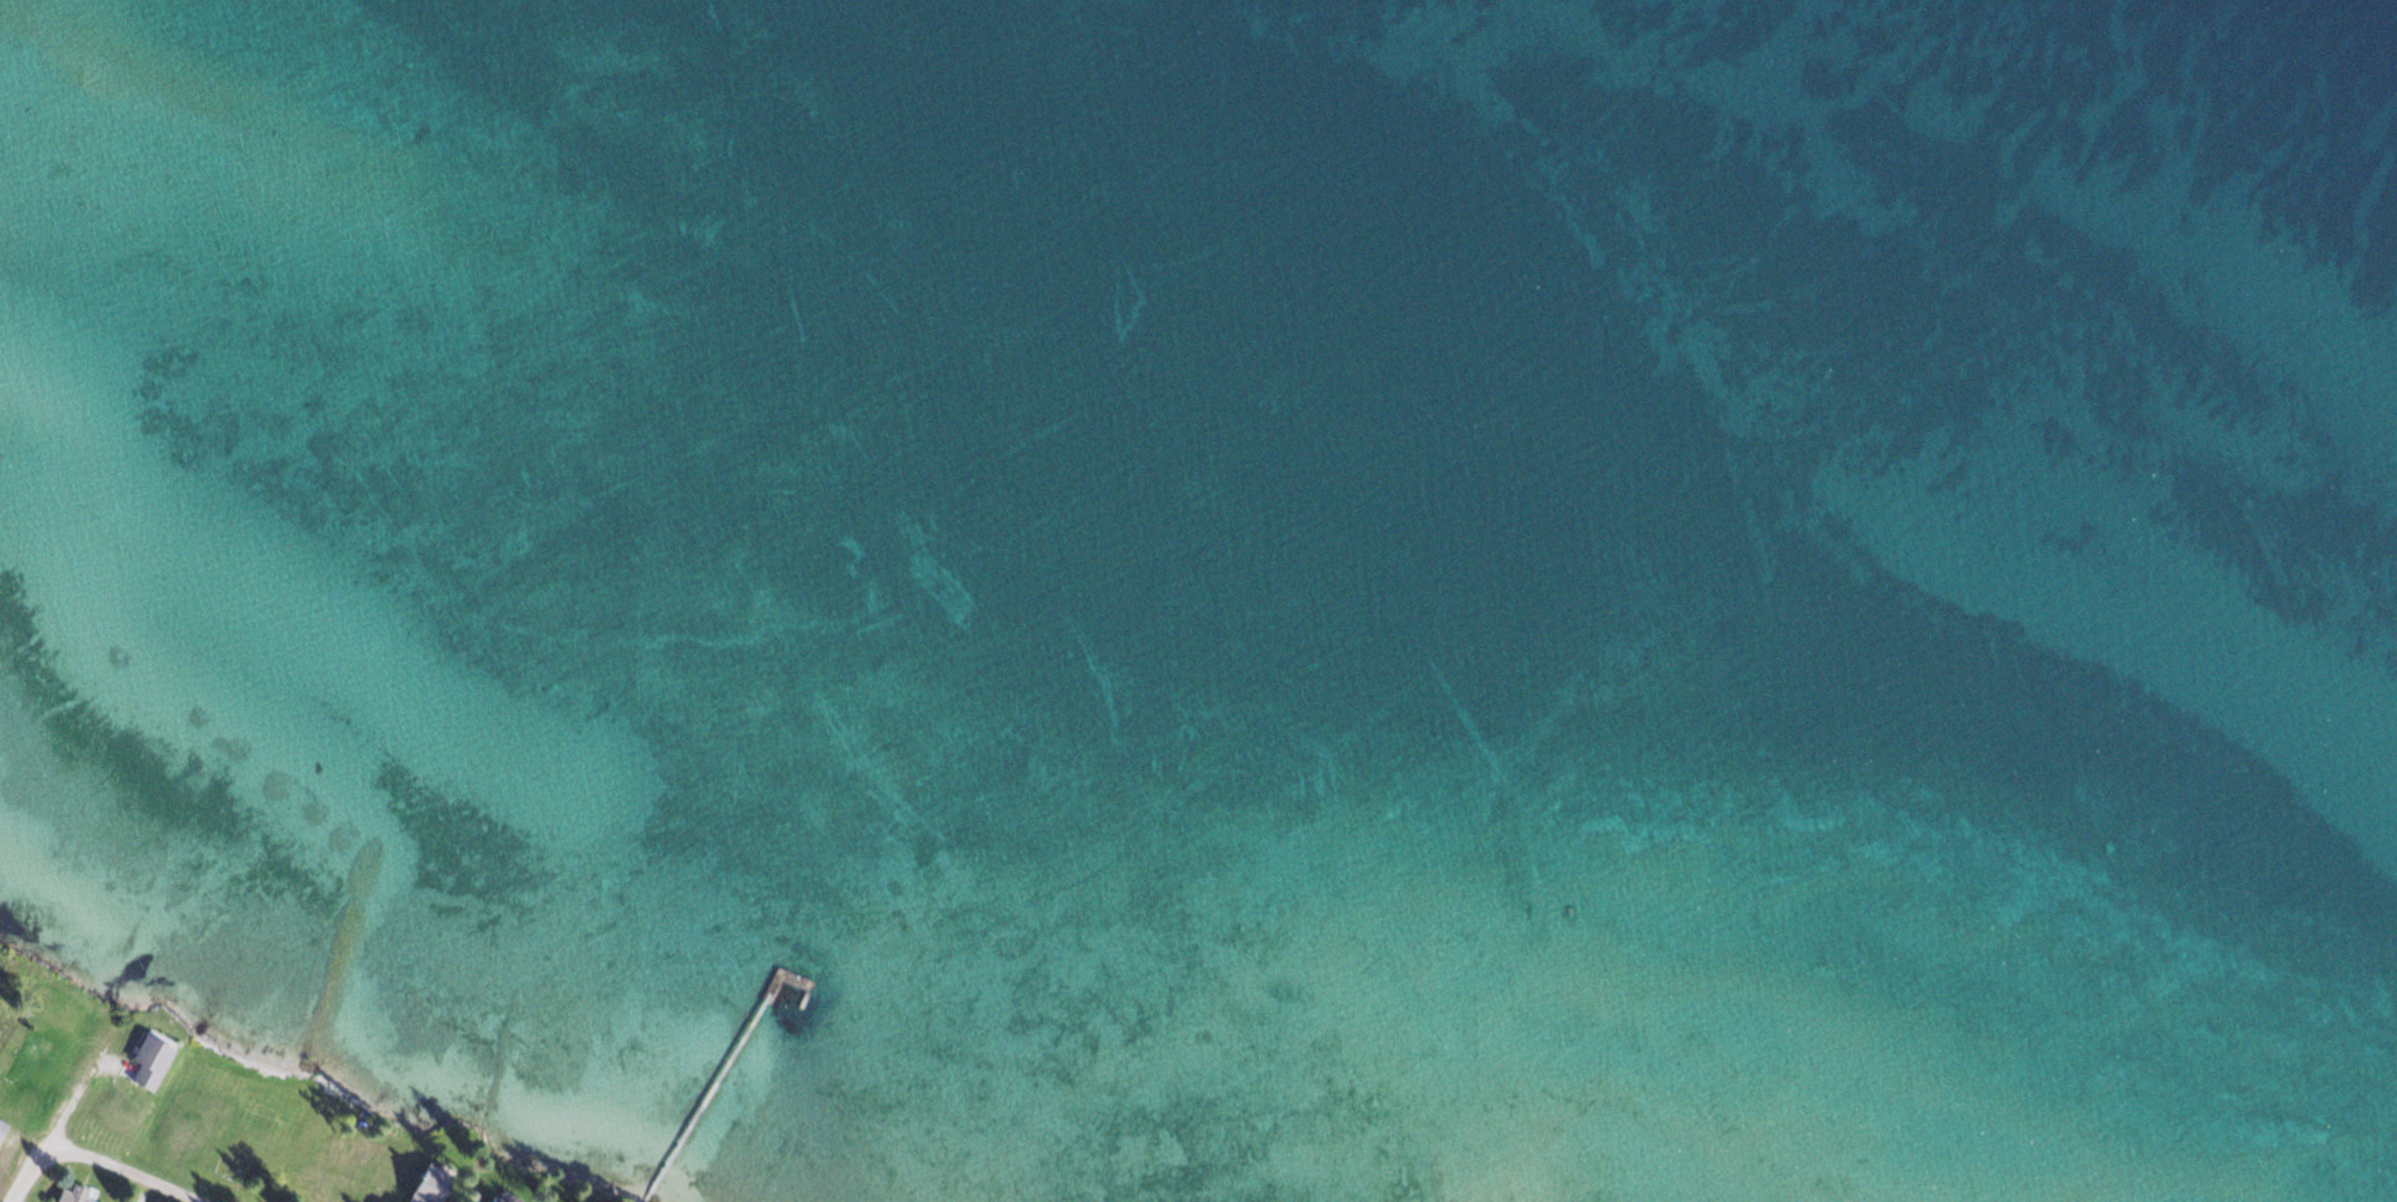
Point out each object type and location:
building: (25, 1058)
building: (144, 1061)
building: (0, 1127)
road: (113, 1168)
road: (22, 1183)
building: (418, 1186)
building: (67, 1194)

